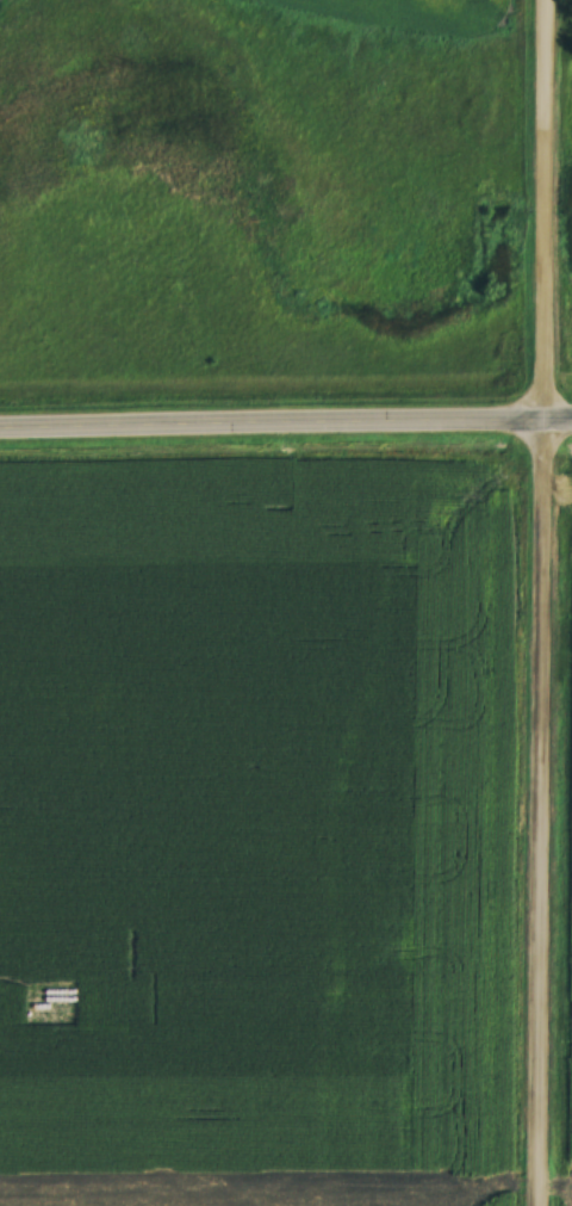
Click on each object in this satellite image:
road: (285, 435)
road: (552, 602)

